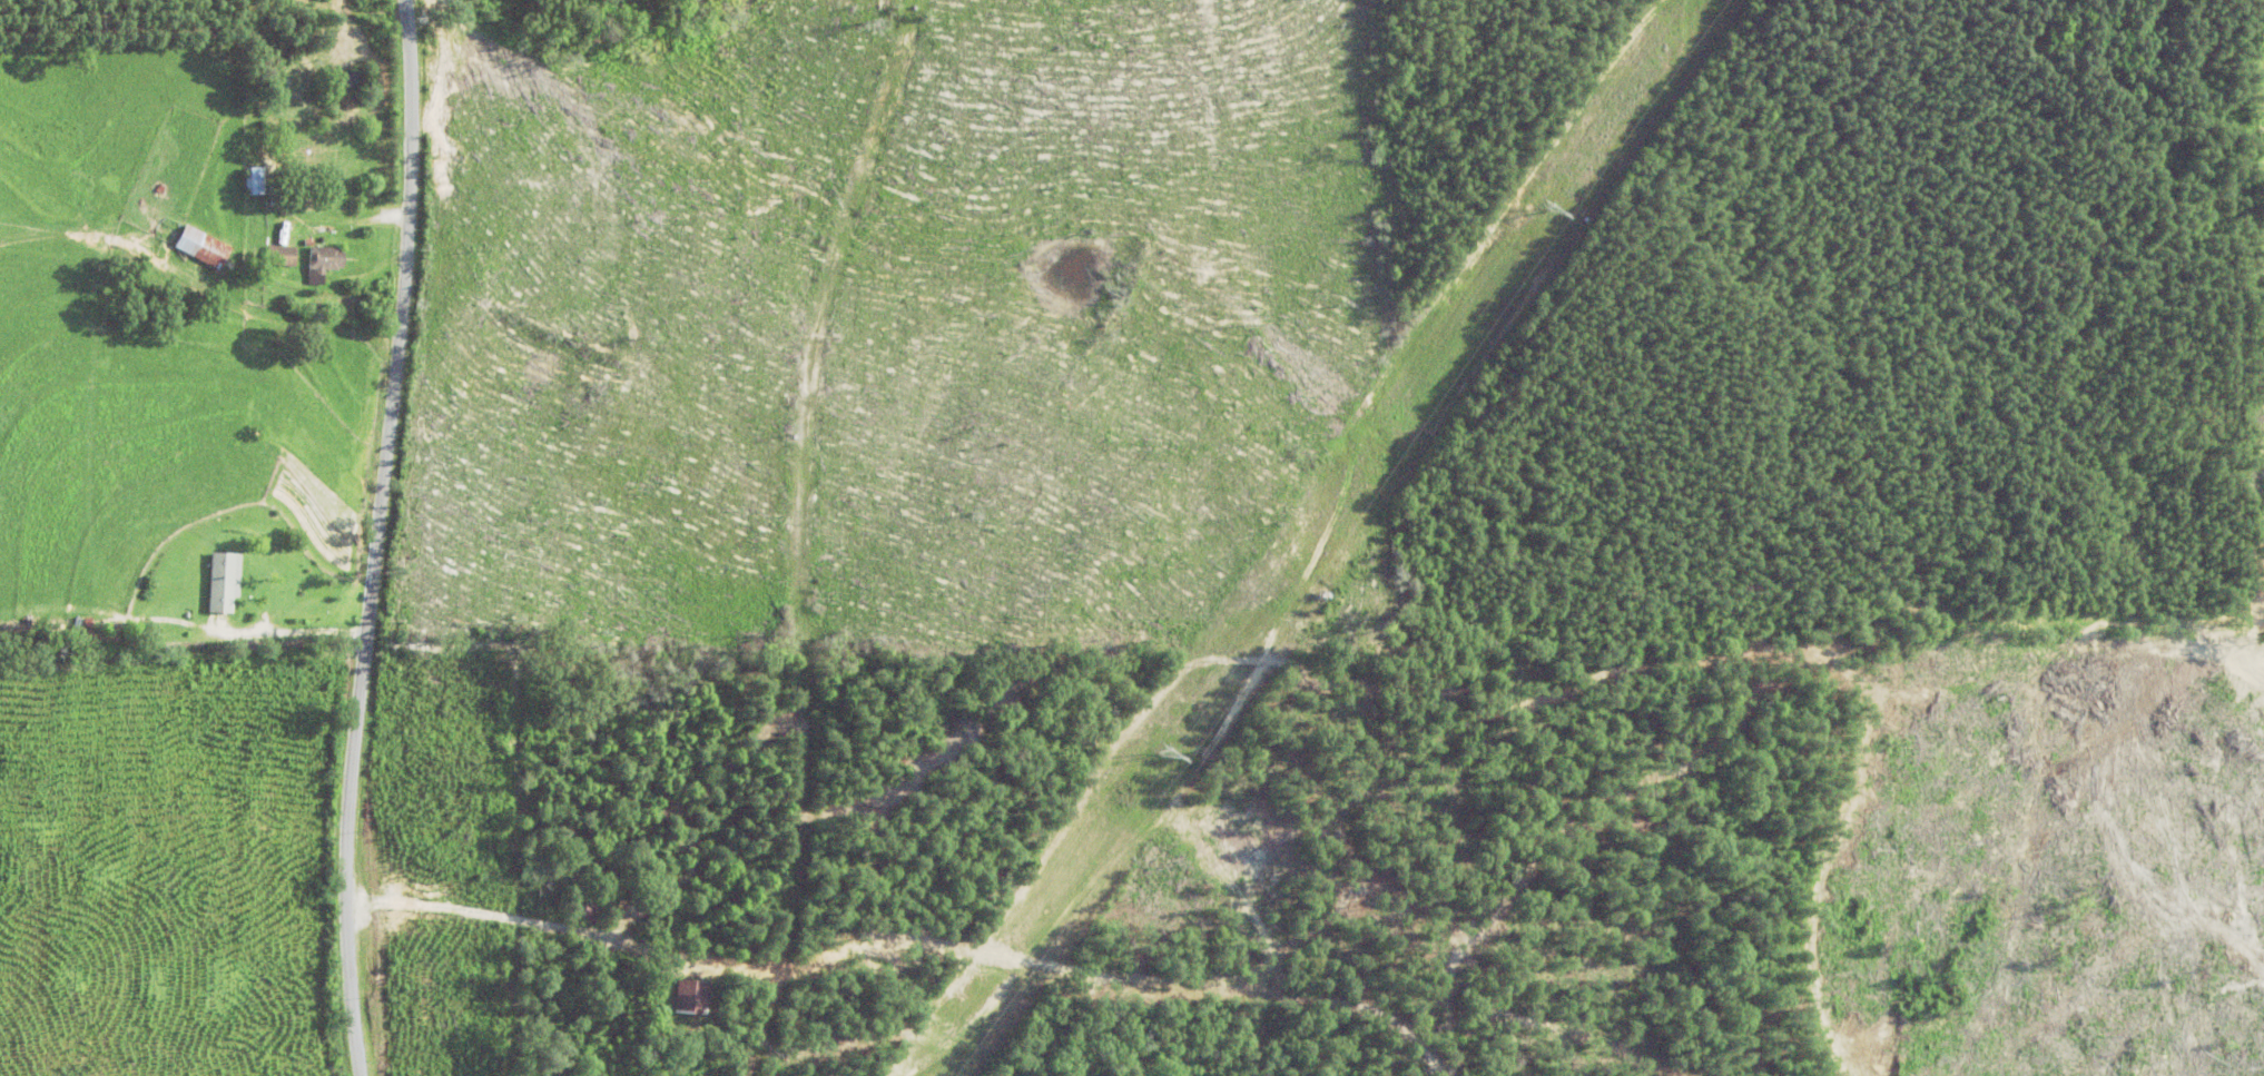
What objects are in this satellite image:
building: (236, 180)
power tower: (1543, 209)
building: (180, 246)
building: (262, 256)
building: (307, 258)
road: (328, 536)
building: (201, 582)
power tower: (1151, 753)
building: (579, 908)
building: (681, 997)

